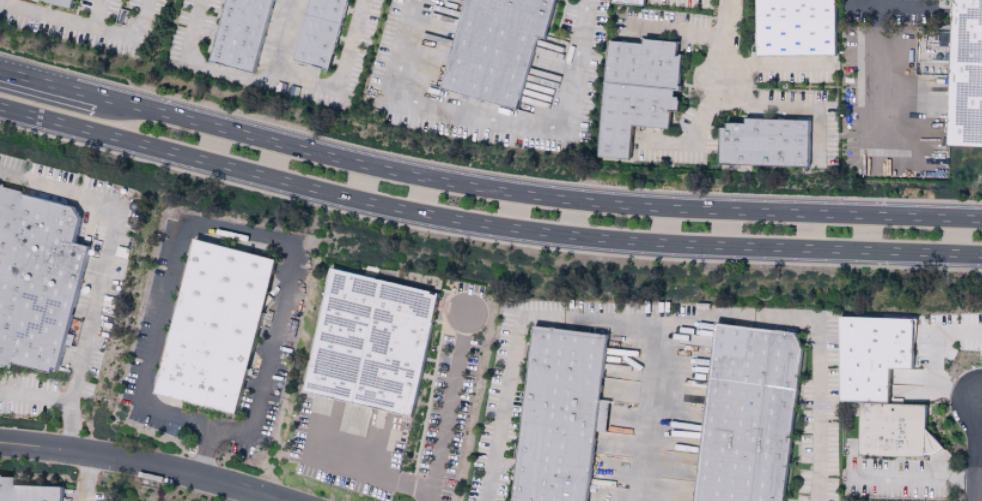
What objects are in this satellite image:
building: (31, 0)
building: (631, 2)
building: (60, 3)
road: (860, 6)
road: (899, 7)
road: (96, 19)
building: (796, 28)
building: (321, 33)
building: (243, 34)
road: (681, 34)
road: (86, 36)
road: (728, 41)
building: (497, 49)
building: (645, 64)
road: (777, 68)
building: (966, 75)
road: (339, 78)
road: (238, 79)
road: (876, 88)
road: (792, 106)
building: (634, 116)
road: (489, 121)
road: (692, 134)
building: (766, 144)
road: (484, 189)
road: (484, 227)
road: (246, 244)
road: (104, 245)
building: (36, 280)
road: (663, 321)
building: (208, 326)
building: (367, 343)
road: (942, 359)
building: (873, 384)
road: (34, 396)
road: (448, 401)
road: (647, 410)
building: (555, 414)
building: (741, 414)
road: (70, 424)
road: (385, 449)
road: (142, 462)
road: (980, 464)
road: (347, 466)
road: (89, 476)
road: (903, 479)
building: (28, 493)
road: (614, 494)
road: (255, 497)

